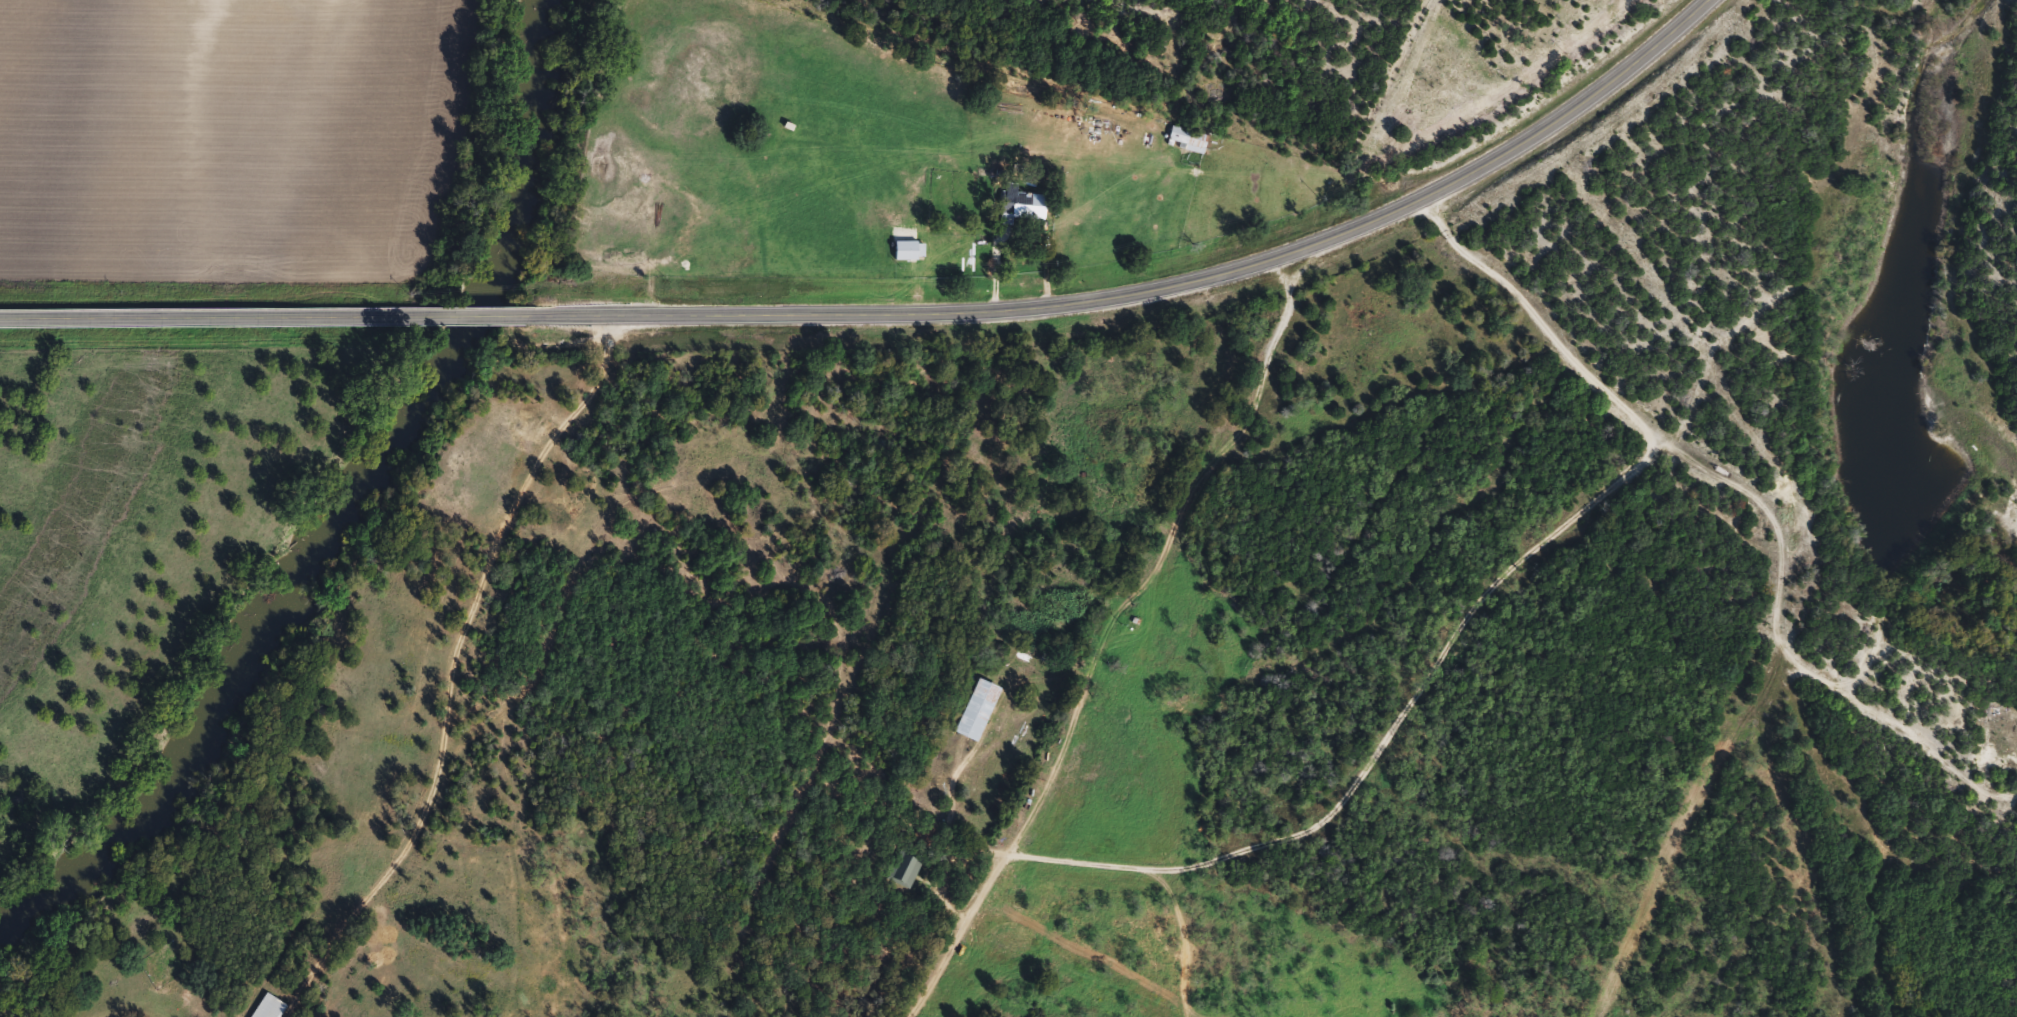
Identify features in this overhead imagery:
road: (1364, 91)
building: (1189, 140)
building: (1022, 206)
building: (911, 252)
road: (1162, 289)
road: (476, 314)
road: (208, 316)
river: (347, 499)
road: (1694, 523)
road: (1083, 637)
road: (447, 648)
building: (978, 712)
building: (908, 870)

